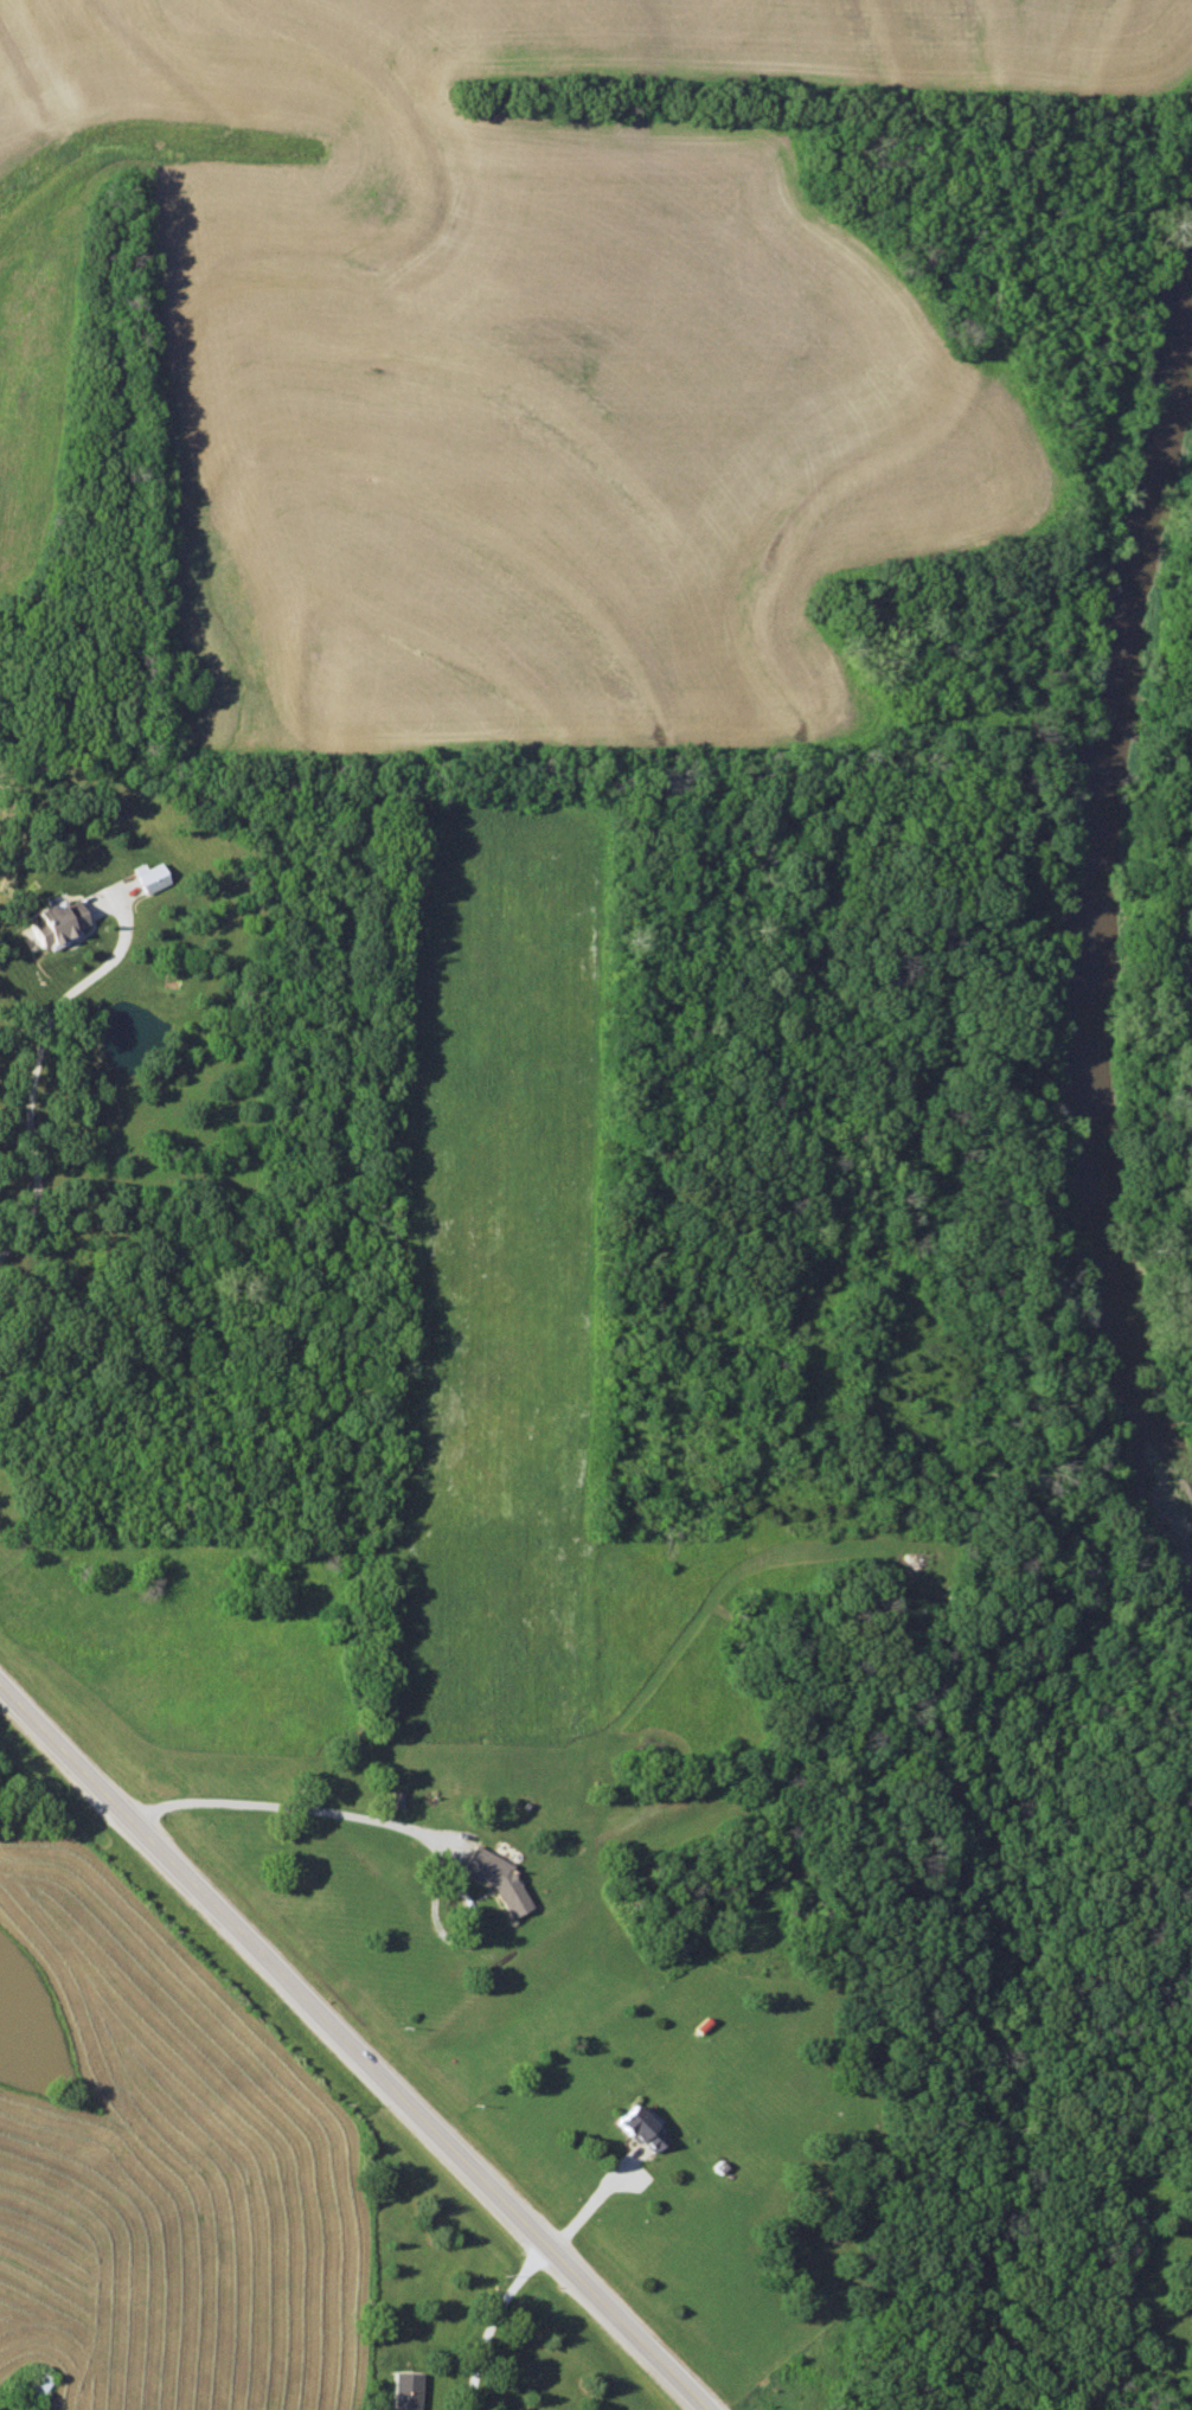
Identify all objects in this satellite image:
river: (1076, 911)
building: (58, 921)
road: (37, 1053)
road: (386, 1821)
building: (492, 1874)
road: (354, 2045)
building: (641, 2126)
road: (488, 2318)
building: (34, 2389)
building: (406, 2390)

